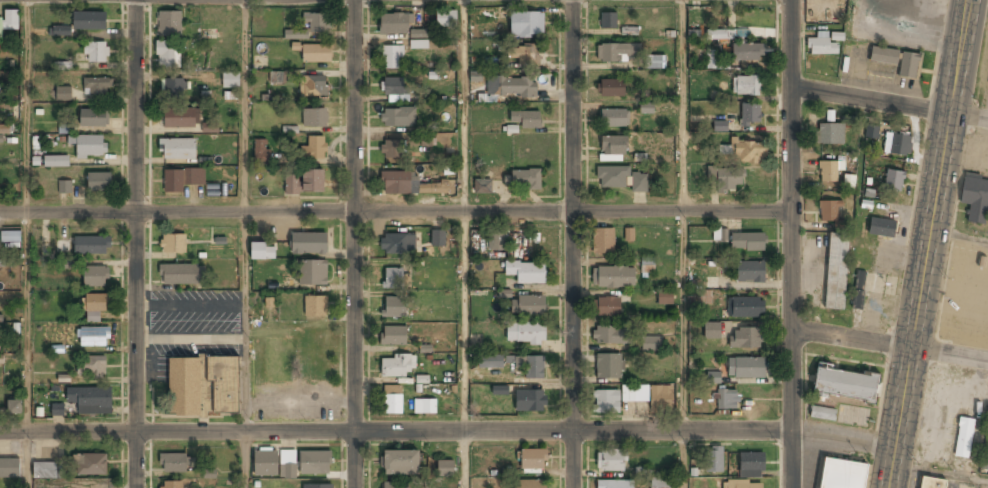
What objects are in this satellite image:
building: (489, 14)
building: (446, 20)
building: (9, 21)
building: (89, 22)
building: (608, 22)
building: (170, 25)
building: (317, 25)
building: (527, 25)
building: (403, 30)
building: (59, 32)
building: (727, 36)
building: (821, 44)
building: (618, 53)
building: (748, 53)
building: (96, 54)
building: (316, 54)
building: (883, 55)
building: (168, 56)
building: (524, 56)
building: (393, 58)
building: (712, 61)
building: (655, 63)
building: (908, 64)
building: (62, 65)
building: (278, 78)
building: (231, 81)
building: (97, 87)
building: (746, 87)
building: (314, 88)
building: (393, 88)
building: (516, 88)
building: (172, 89)
building: (610, 89)
building: (63, 94)
building: (204, 98)
road: (889, 102)
building: (647, 110)
building: (750, 115)
building: (93, 119)
building: (179, 119)
building: (315, 119)
building: (398, 119)
building: (615, 119)
building: (526, 120)
building: (209, 127)
building: (719, 127)
building: (4, 129)
building: (289, 129)
building: (871, 131)
building: (829, 133)
building: (897, 144)
building: (88, 146)
building: (613, 147)
building: (315, 149)
building: (177, 150)
building: (392, 151)
building: (261, 152)
building: (746, 153)
building: (56, 162)
building: (828, 171)
building: (620, 179)
building: (182, 180)
building: (525, 180)
building: (725, 180)
building: (893, 180)
building: (312, 182)
building: (99, 183)
building: (408, 185)
building: (64, 187)
building: (291, 187)
building: (483, 187)
building: (975, 197)
building: (829, 209)
road: (395, 213)
road: (465, 215)
road: (684, 215)
road: (26, 216)
road: (244, 216)
building: (881, 227)
building: (628, 234)
building: (719, 234)
building: (10, 236)
building: (438, 239)
building: (603, 242)
building: (494, 243)
building: (747, 243)
road: (789, 243)
road: (928, 243)
road: (138, 244)
building: (173, 244)
building: (308, 244)
road: (357, 244)
road: (577, 244)
building: (398, 245)
building: (91, 246)
building: (263, 252)
building: (648, 267)
building: (836, 271)
building: (311, 273)
building: (750, 273)
building: (526, 274)
building: (179, 276)
building: (95, 278)
building: (614, 278)
building: (393, 279)
building: (859, 279)
building: (701, 297)
building: (665, 299)
building: (857, 299)
building: (94, 307)
building: (315, 307)
building: (394, 308)
building: (528, 308)
building: (608, 308)
building: (745, 308)
building: (712, 331)
building: (525, 334)
building: (393, 336)
building: (94, 337)
building: (608, 337)
building: (746, 339)
building: (652, 345)
road: (888, 345)
building: (1, 358)
building: (492, 362)
building: (397, 366)
building: (530, 366)
building: (91, 367)
building: (609, 368)
building: (746, 369)
building: (713, 377)
building: (844, 383)
building: (224, 386)
building: (184, 387)
building: (635, 395)
building: (661, 399)
building: (393, 400)
building: (727, 400)
building: (91, 401)
building: (530, 401)
building: (606, 403)
building: (426, 406)
building: (14, 408)
building: (57, 409)
building: (822, 413)
building: (852, 415)
road: (400, 431)
building: (963, 437)
road: (846, 442)
road: (465, 459)
road: (684, 459)
road: (26, 460)
road: (245, 460)
building: (714, 460)
building: (533, 461)
building: (611, 461)
building: (401, 463)
building: (265, 464)
building: (287, 464)
building: (315, 464)
building: (174, 465)
building: (91, 466)
building: (752, 466)
building: (10, 469)
building: (446, 469)
road: (939, 470)
building: (45, 471)
building: (640, 471)
building: (842, 474)
building: (662, 483)
building: (931, 483)
building: (530, 484)
building: (171, 485)
building: (395, 485)
building: (614, 485)
building: (743, 485)
building: (318, 486)

